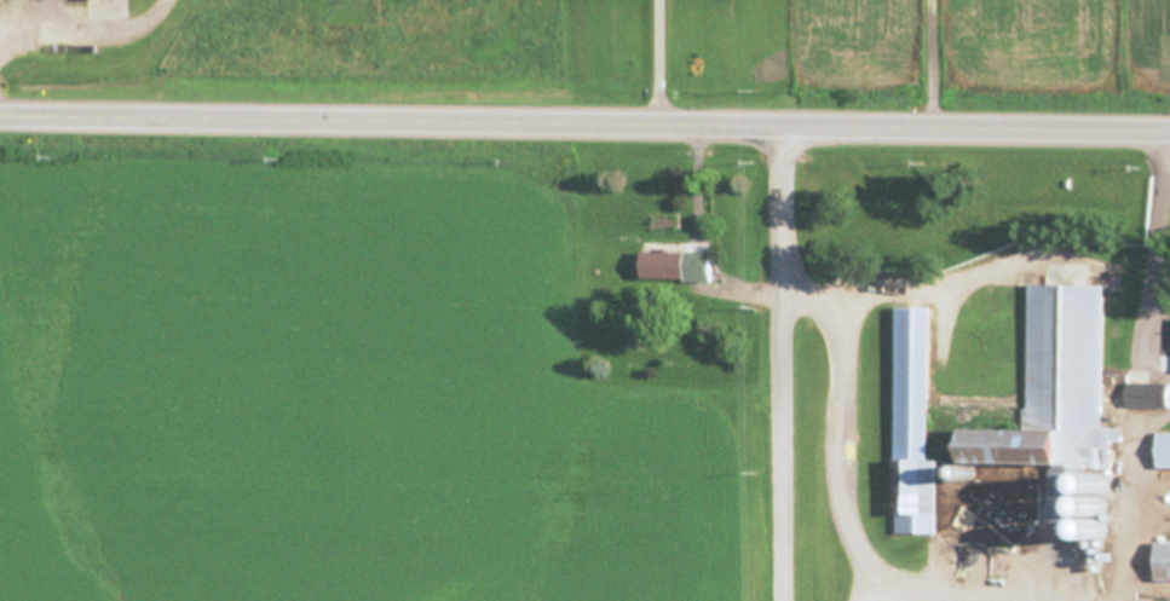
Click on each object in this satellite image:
building: (99, 0)
road: (656, 62)
road: (929, 63)
road: (584, 123)
road: (1153, 248)
building: (670, 268)
road: (777, 363)
building: (1061, 371)
building: (1145, 399)
road: (837, 428)
building: (1162, 455)
road: (1129, 502)
building: (1159, 566)
road: (917, 593)

